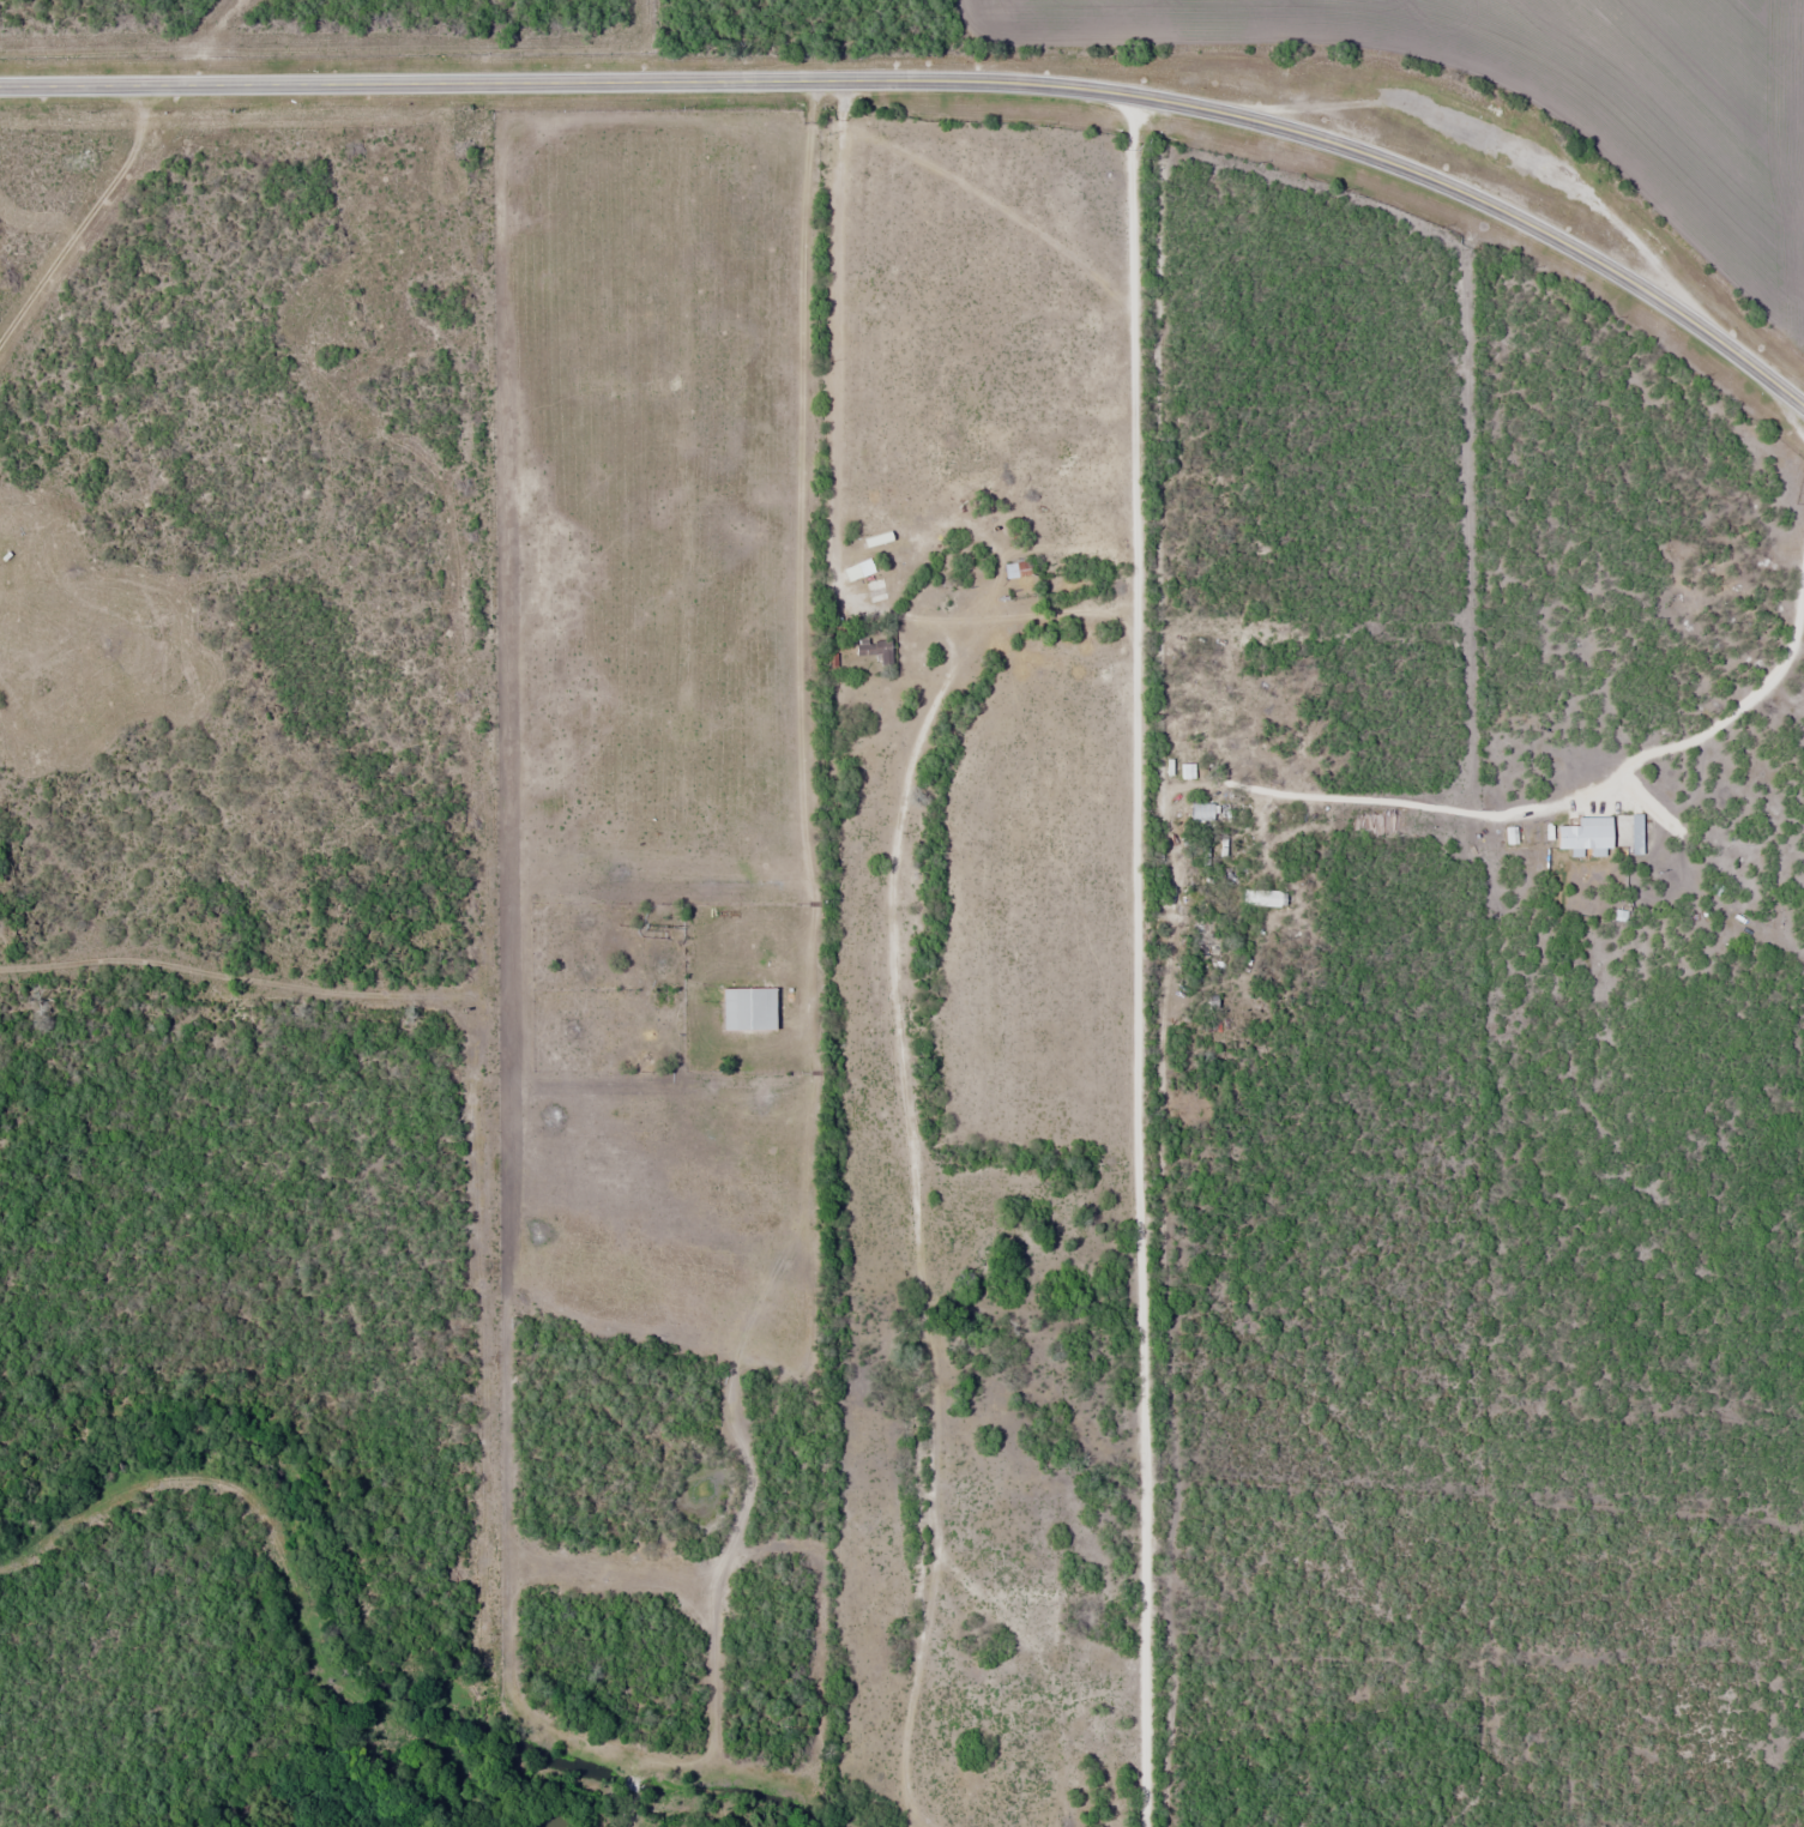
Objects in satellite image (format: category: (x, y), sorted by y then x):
road: (941, 80)
road: (827, 355)
building: (864, 566)
building: (1015, 568)
building: (876, 589)
building: (873, 647)
building: (1201, 810)
building: (1261, 897)
road: (1138, 960)
building: (746, 1008)

